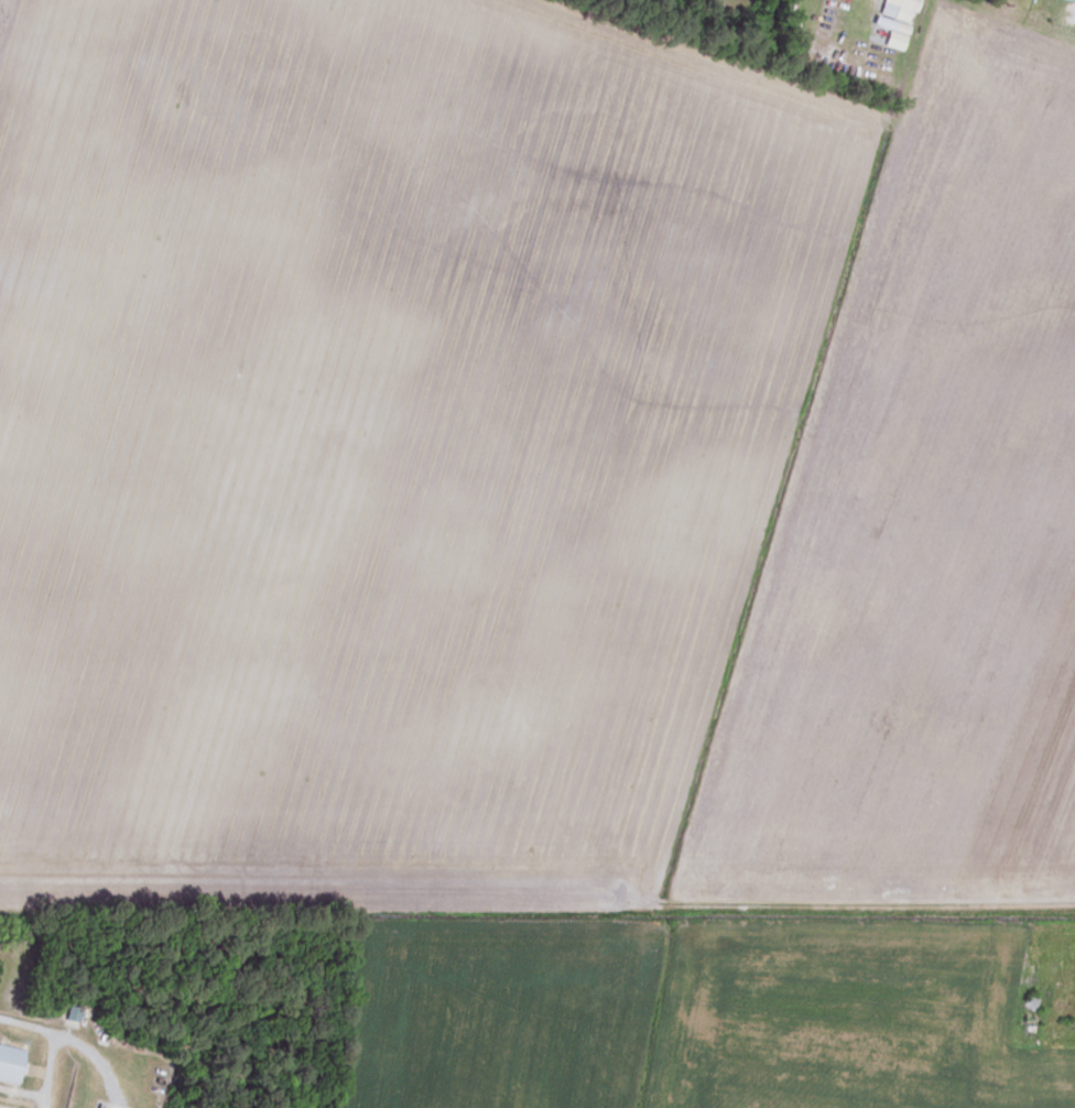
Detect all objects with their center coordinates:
building: (1067, 15)
building: (69, 1014)
building: (1025, 1021)
building: (10, 1057)

